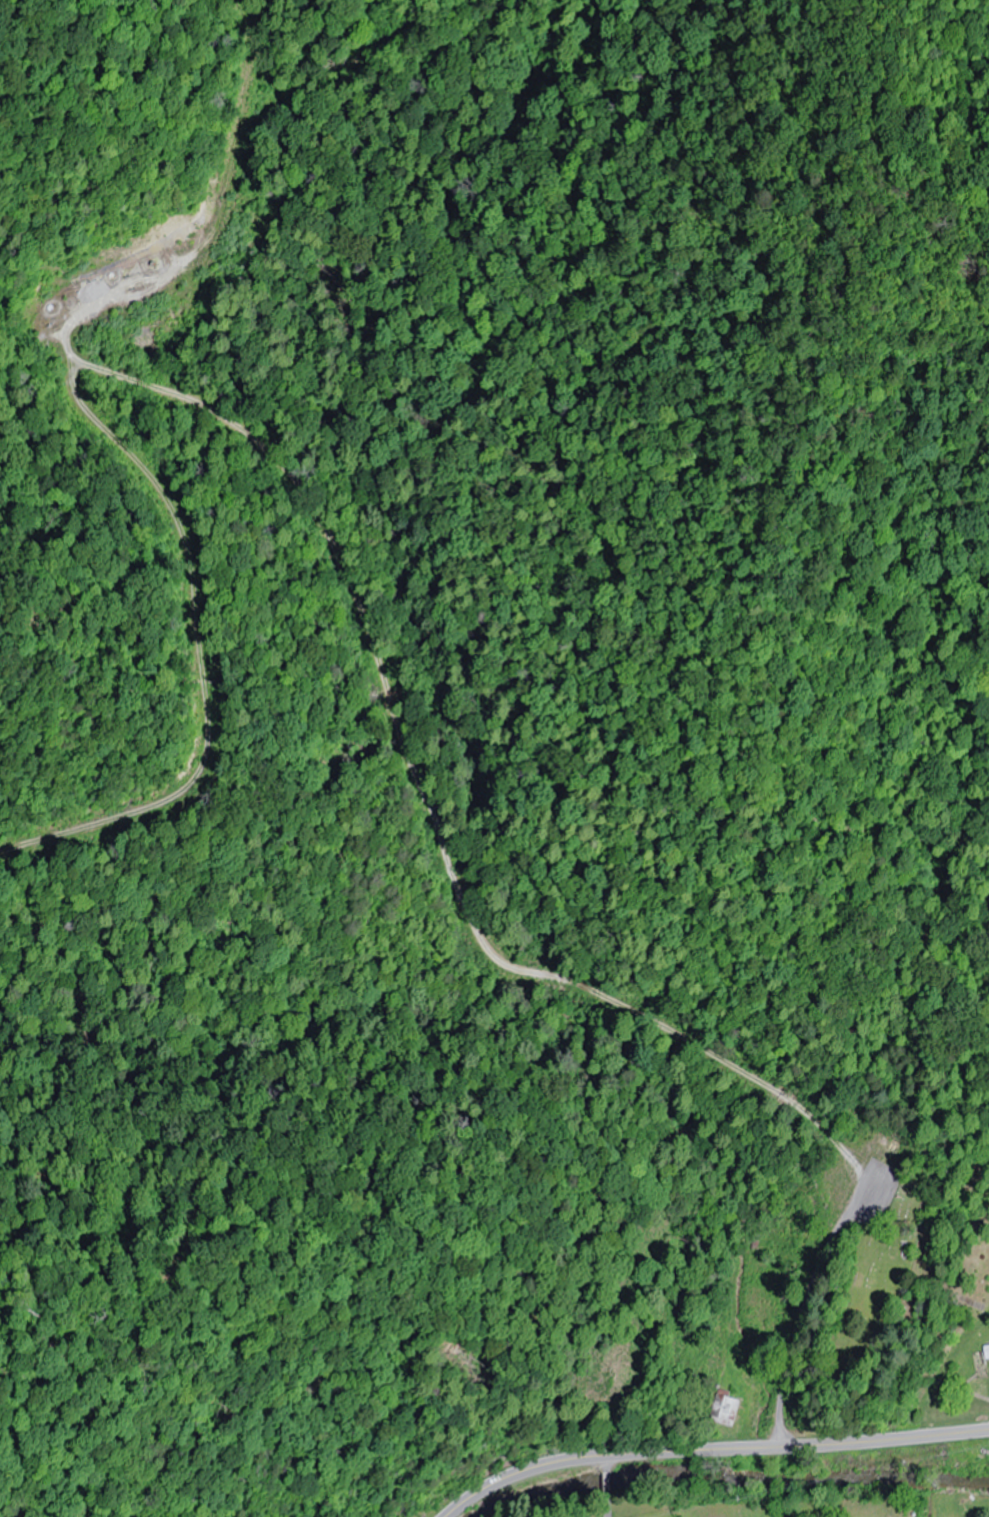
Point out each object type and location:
building: (987, 1350)
building: (988, 1370)
building: (726, 1410)
road: (708, 1448)

